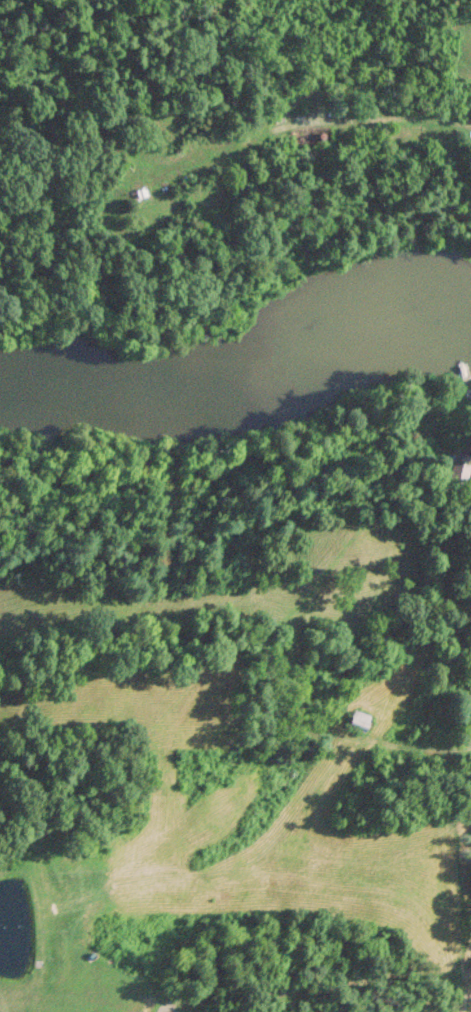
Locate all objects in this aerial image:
building: (358, 721)

